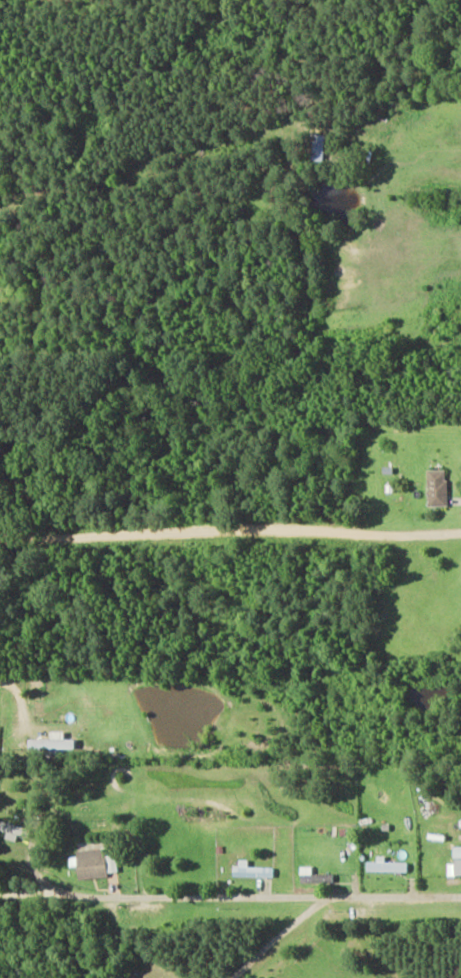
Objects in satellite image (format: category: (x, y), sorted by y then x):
building: (319, 148)
building: (435, 486)
road: (230, 531)
road: (17, 692)
building: (53, 742)
building: (16, 830)
building: (96, 862)
building: (456, 863)
building: (385, 864)
building: (253, 869)
building: (316, 875)
road: (230, 897)

